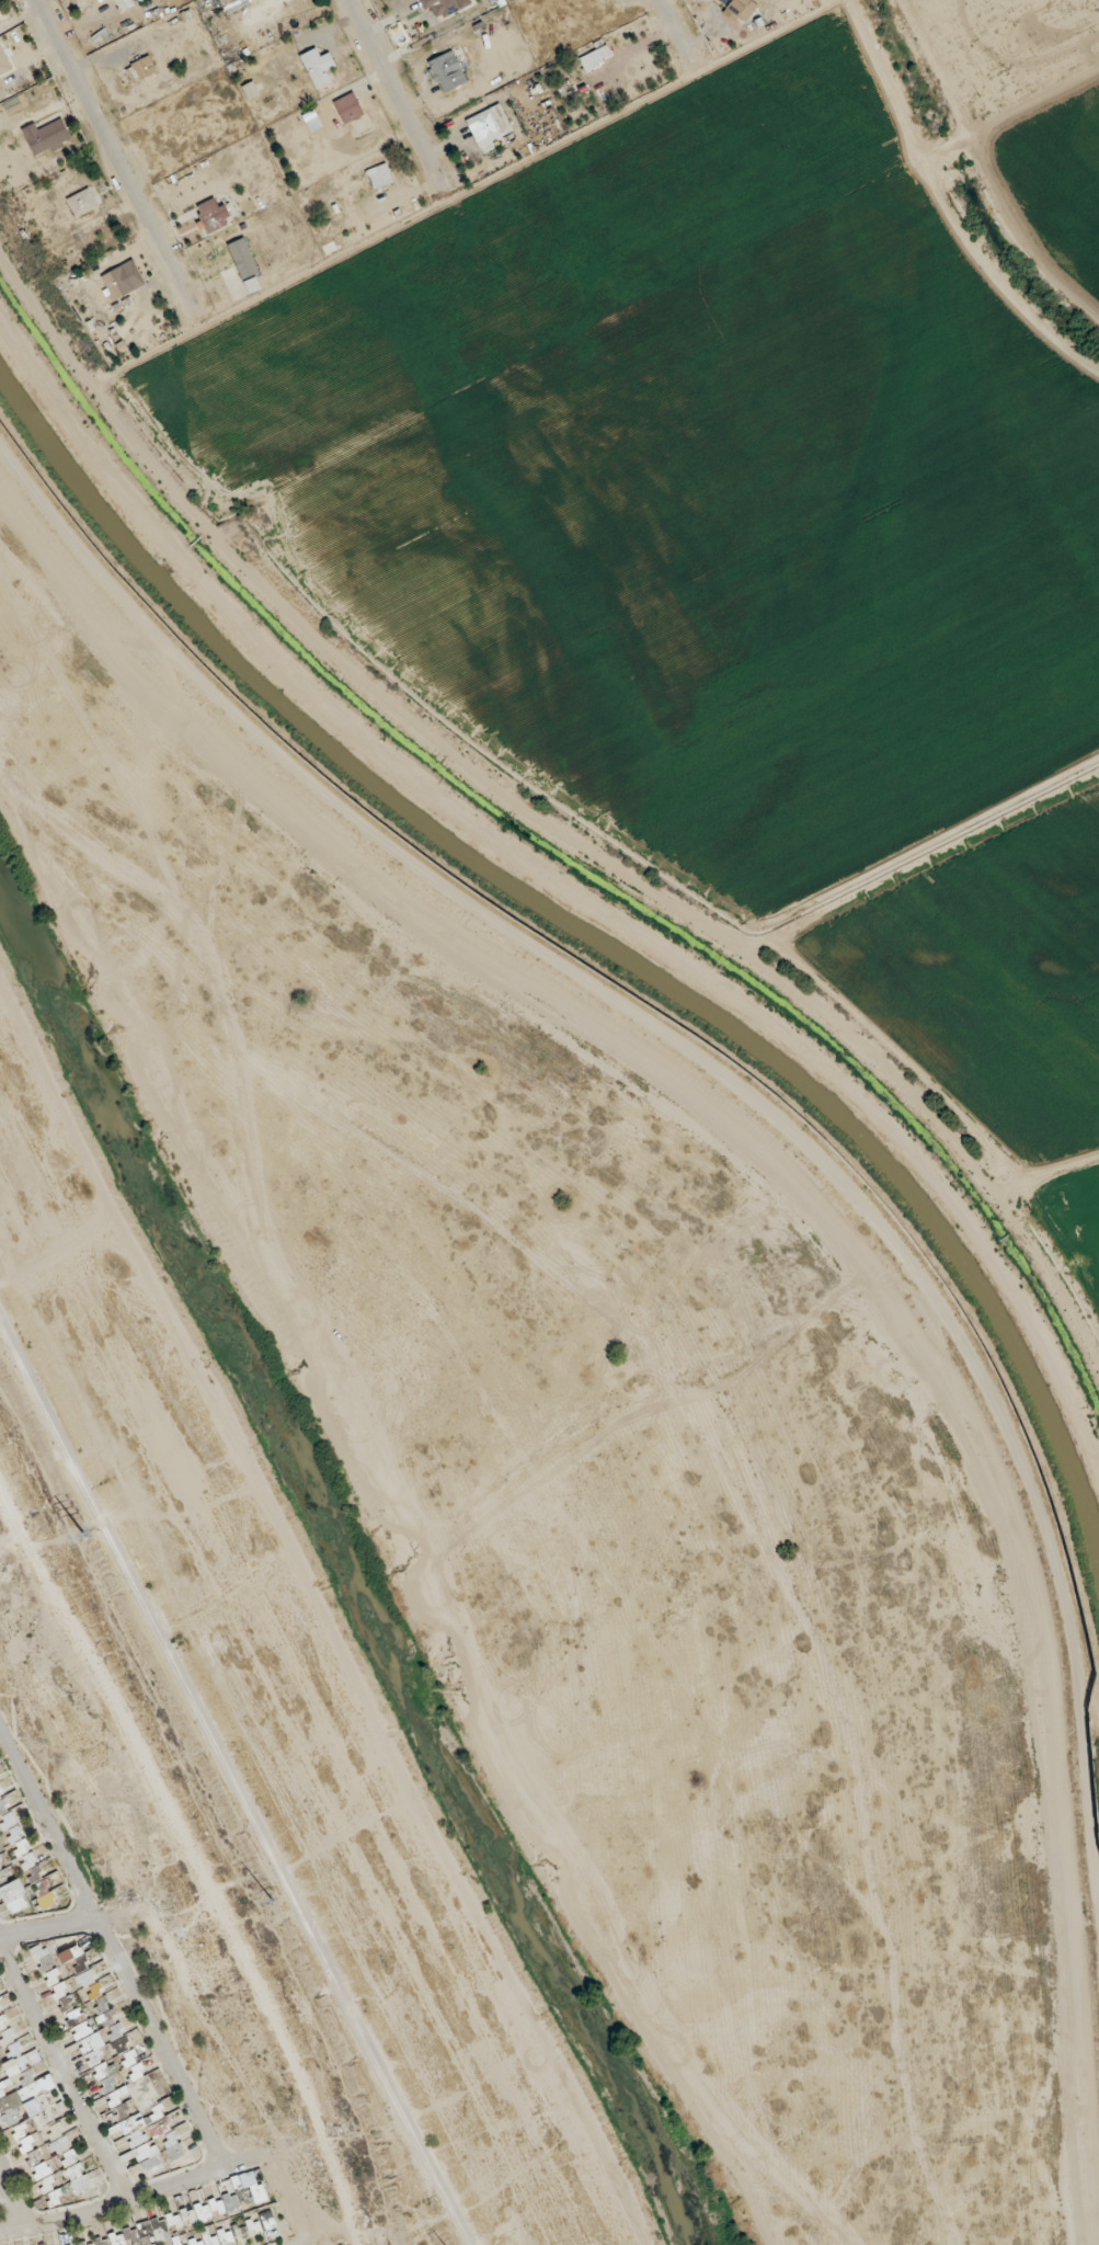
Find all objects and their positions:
building: (234, 3)
building: (444, 7)
road: (675, 30)
building: (1, 50)
building: (596, 57)
building: (318, 67)
building: (140, 69)
building: (446, 71)
building: (251, 90)
road: (393, 92)
building: (16, 104)
building: (348, 107)
building: (488, 125)
building: (46, 136)
road: (111, 151)
building: (380, 175)
building: (82, 202)
building: (213, 215)
building: (116, 283)
river: (134, 1153)
power tower: (79, 1535)
road: (10, 1539)
river: (483, 1824)
road: (196, 1861)
building: (12, 1889)
power tower: (261, 1903)
road: (47, 1928)
road: (111, 1952)
building: (93, 2047)
road: (66, 2078)
road: (283, 2199)
road: (128, 2203)
road: (12, 2206)
building: (216, 2211)

